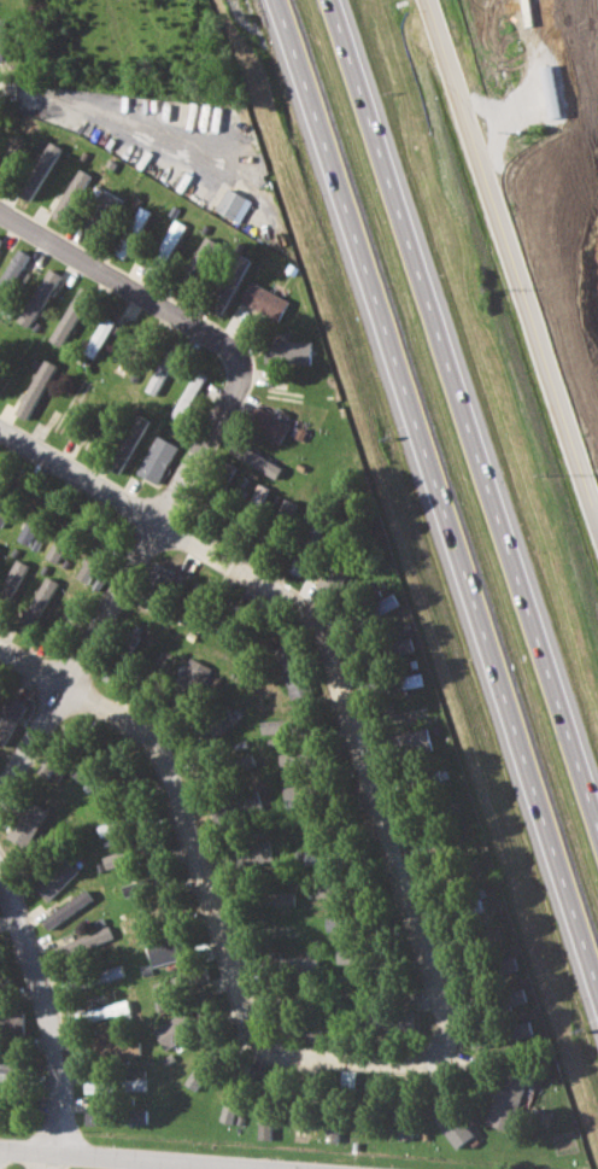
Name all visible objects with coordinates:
building: (1, 42)
road: (124, 116)
building: (39, 170)
building: (71, 193)
building: (234, 204)
building: (107, 205)
building: (131, 232)
building: (0, 239)
building: (169, 242)
building: (201, 259)
road: (509, 271)
building: (11, 273)
road: (124, 284)
building: (264, 300)
building: (71, 315)
building: (99, 335)
building: (288, 351)
building: (122, 363)
building: (160, 372)
building: (35, 388)
building: (188, 394)
road: (459, 421)
building: (268, 423)
building: (128, 443)
building: (254, 458)
building: (157, 460)
road: (433, 497)
building: (2, 515)
building: (28, 530)
building: (57, 549)
building: (89, 565)
building: (295, 565)
building: (10, 581)
road: (123, 589)
building: (40, 600)
building: (383, 603)
building: (401, 645)
road: (332, 651)
building: (293, 671)
building: (192, 673)
building: (411, 680)
building: (8, 721)
building: (217, 725)
building: (274, 726)
building: (411, 743)
building: (47, 764)
road: (187, 801)
building: (27, 824)
building: (250, 854)
building: (312, 857)
building: (115, 858)
building: (55, 878)
building: (328, 889)
building: (277, 898)
building: (66, 908)
building: (84, 941)
building: (163, 951)
building: (346, 955)
building: (295, 964)
building: (112, 971)
building: (165, 990)
road: (49, 1009)
building: (100, 1011)
building: (398, 1021)
building: (11, 1022)
building: (522, 1029)
building: (174, 1031)
building: (115, 1048)
road: (356, 1060)
building: (6, 1068)
building: (197, 1074)
building: (93, 1082)
building: (135, 1083)
building: (506, 1099)
building: (228, 1112)
building: (137, 1116)
building: (94, 1117)
building: (450, 1122)
building: (403, 1126)
building: (263, 1129)
building: (330, 1129)
road: (143, 1158)
road: (37, 1159)
road: (272, 1168)

